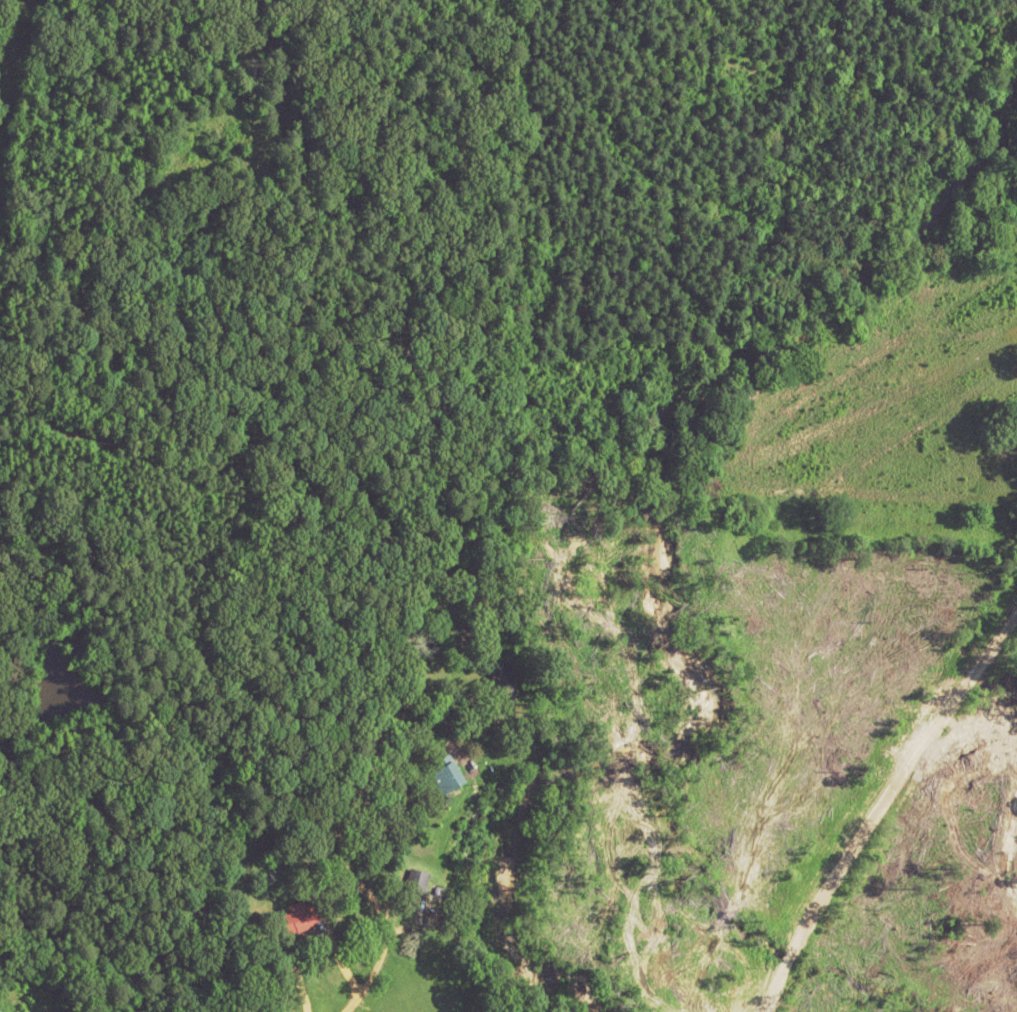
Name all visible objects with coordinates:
building: (447, 774)
road: (881, 808)
building: (417, 880)
building: (300, 915)
road: (206, 955)
building: (0, 1011)

